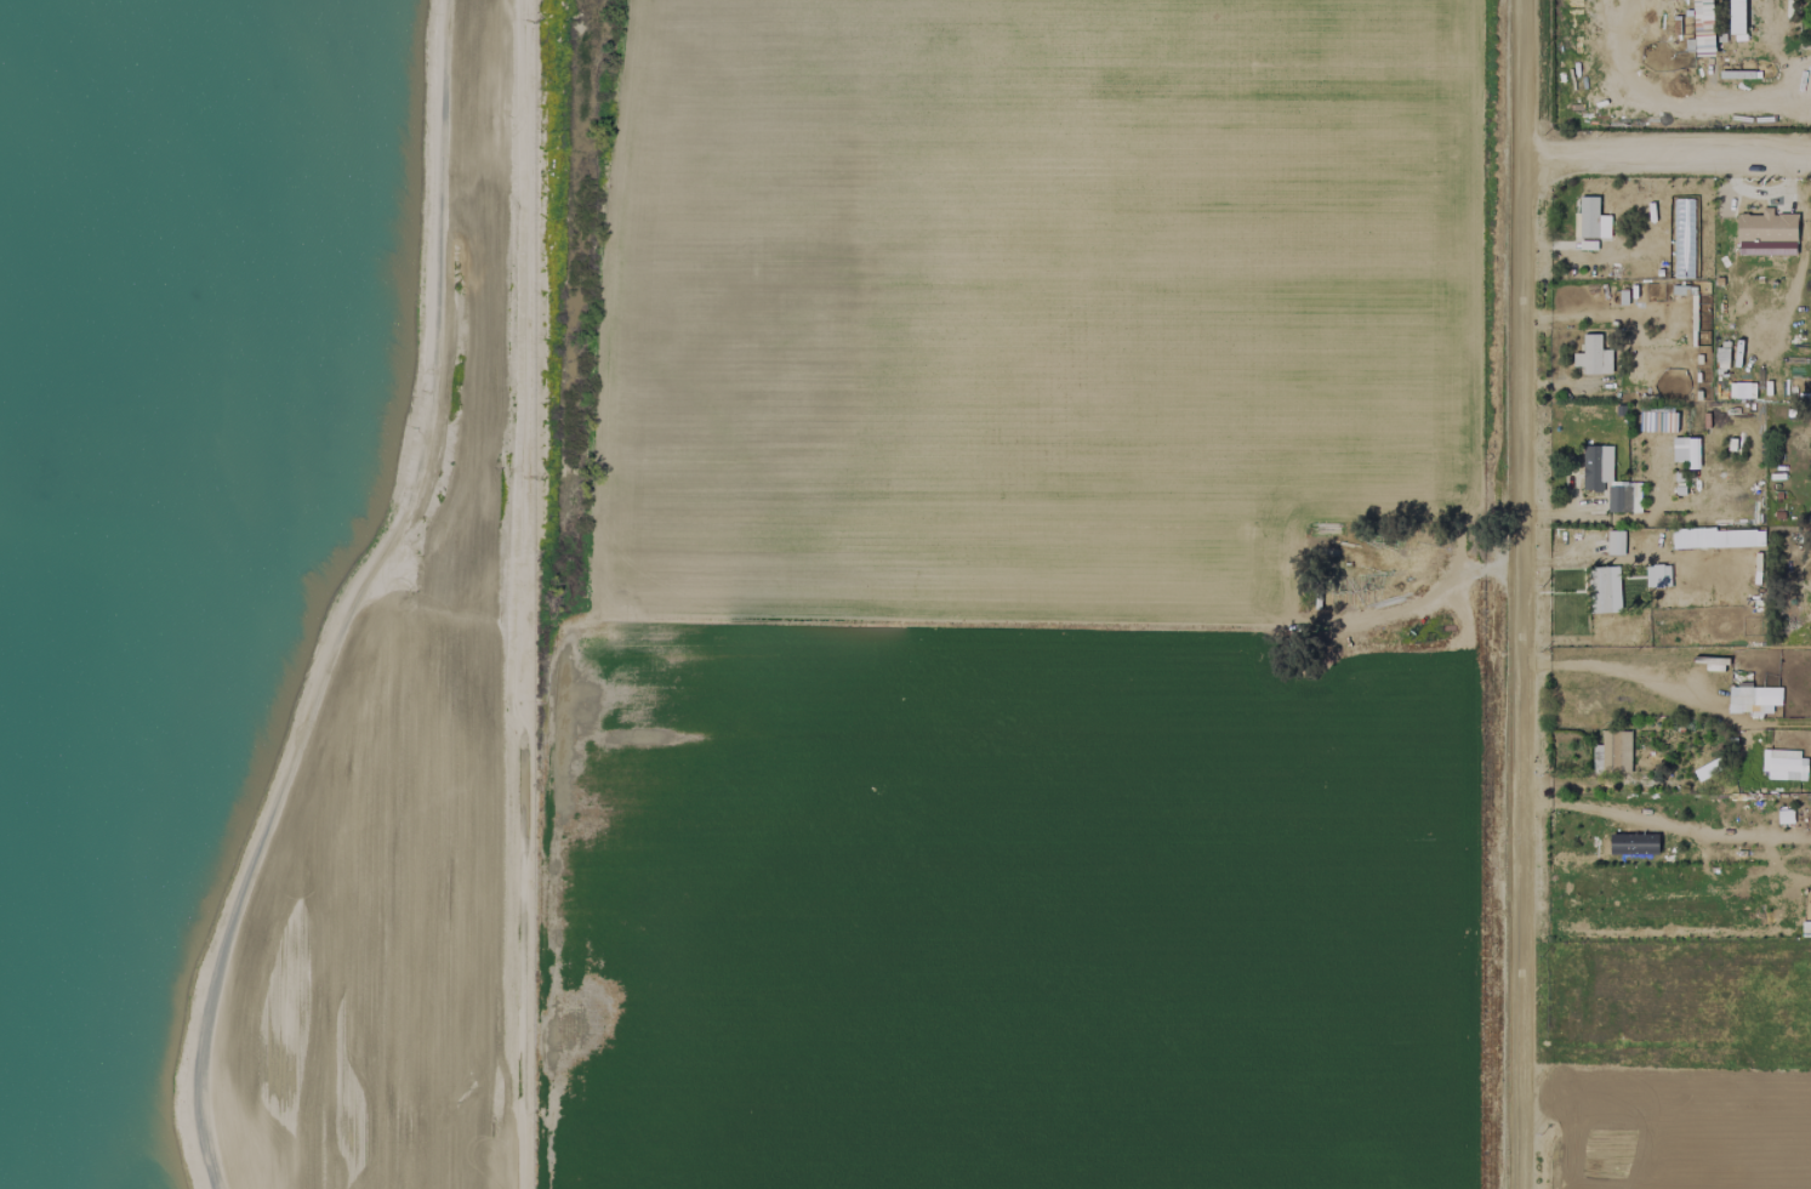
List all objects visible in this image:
building: (1737, 8)
building: (1702, 28)
road: (1668, 160)
building: (1590, 220)
building: (1765, 234)
building: (1593, 355)
building: (1721, 355)
building: (1662, 421)
building: (1595, 467)
building: (1622, 499)
building: (1713, 537)
building: (1614, 542)
building: (1657, 576)
building: (1604, 590)
road: (1524, 593)
building: (1753, 699)
building: (1611, 752)
building: (1783, 764)

